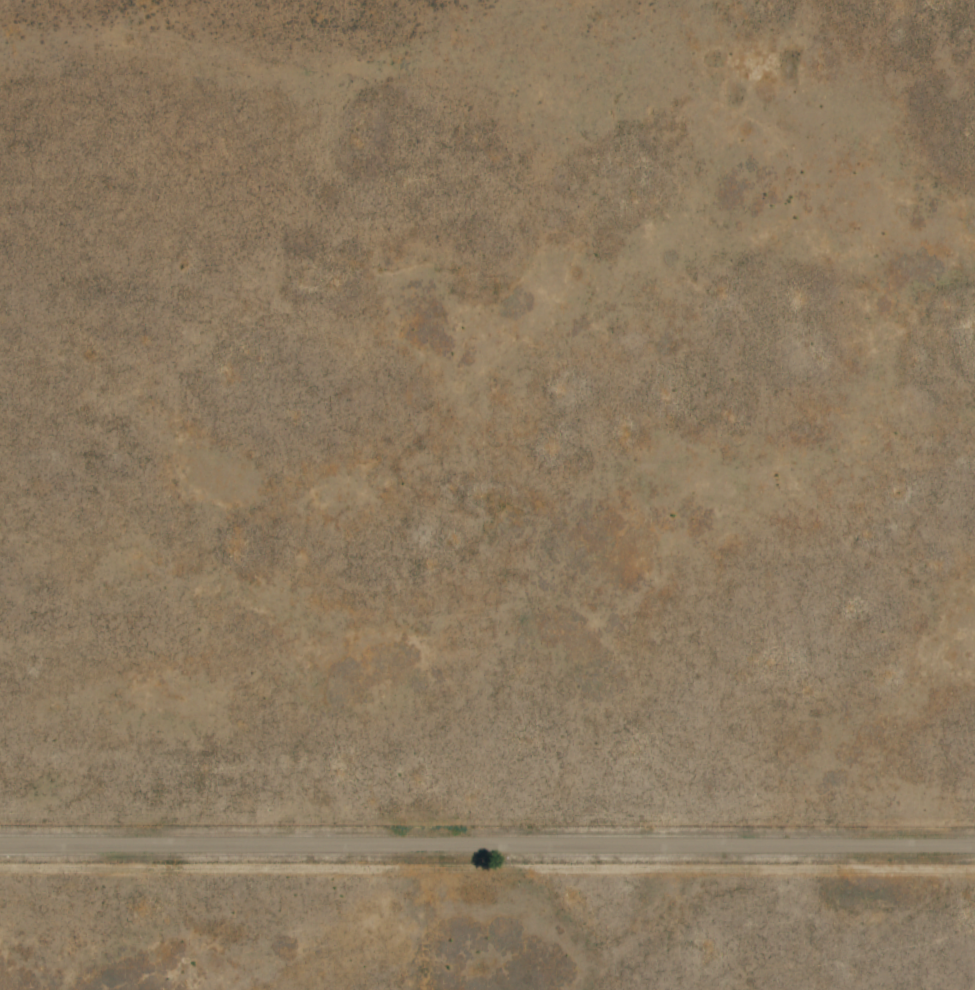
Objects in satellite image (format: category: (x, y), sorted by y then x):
road: (487, 859)

